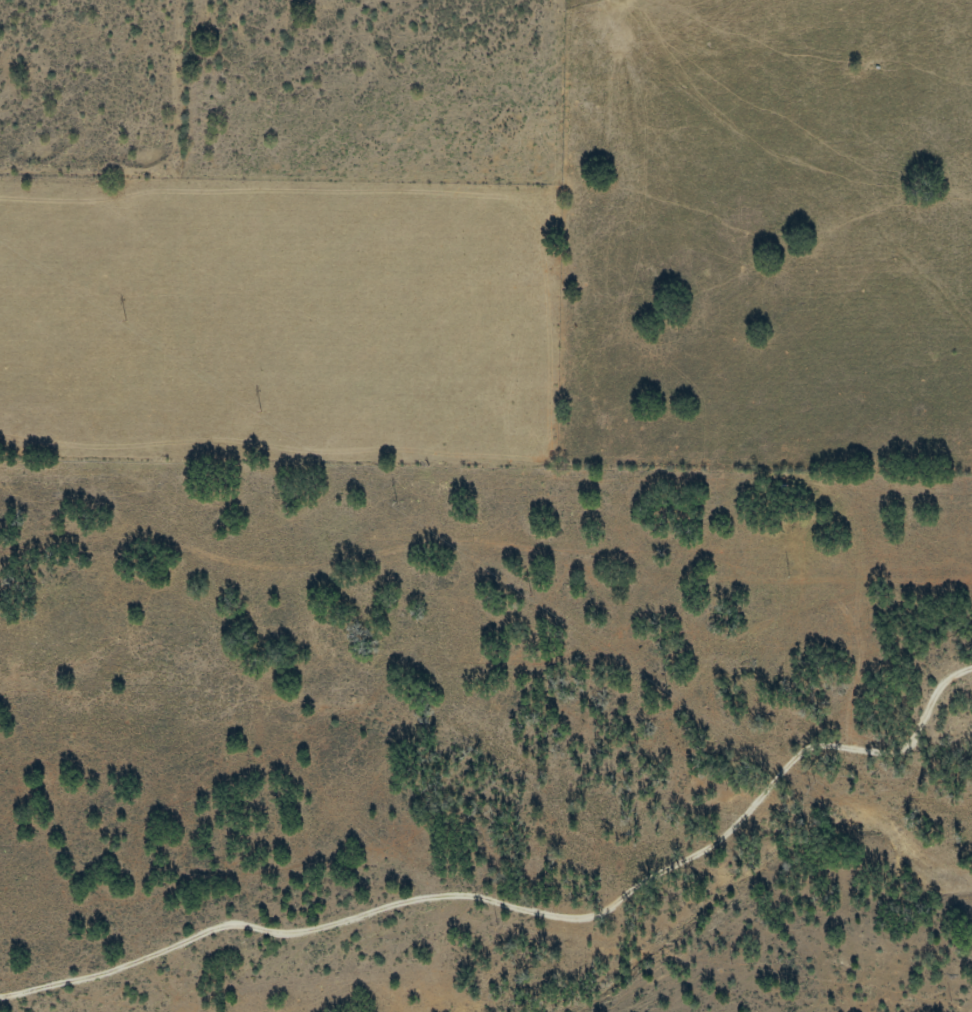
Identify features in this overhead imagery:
power tower: (812, 787)

